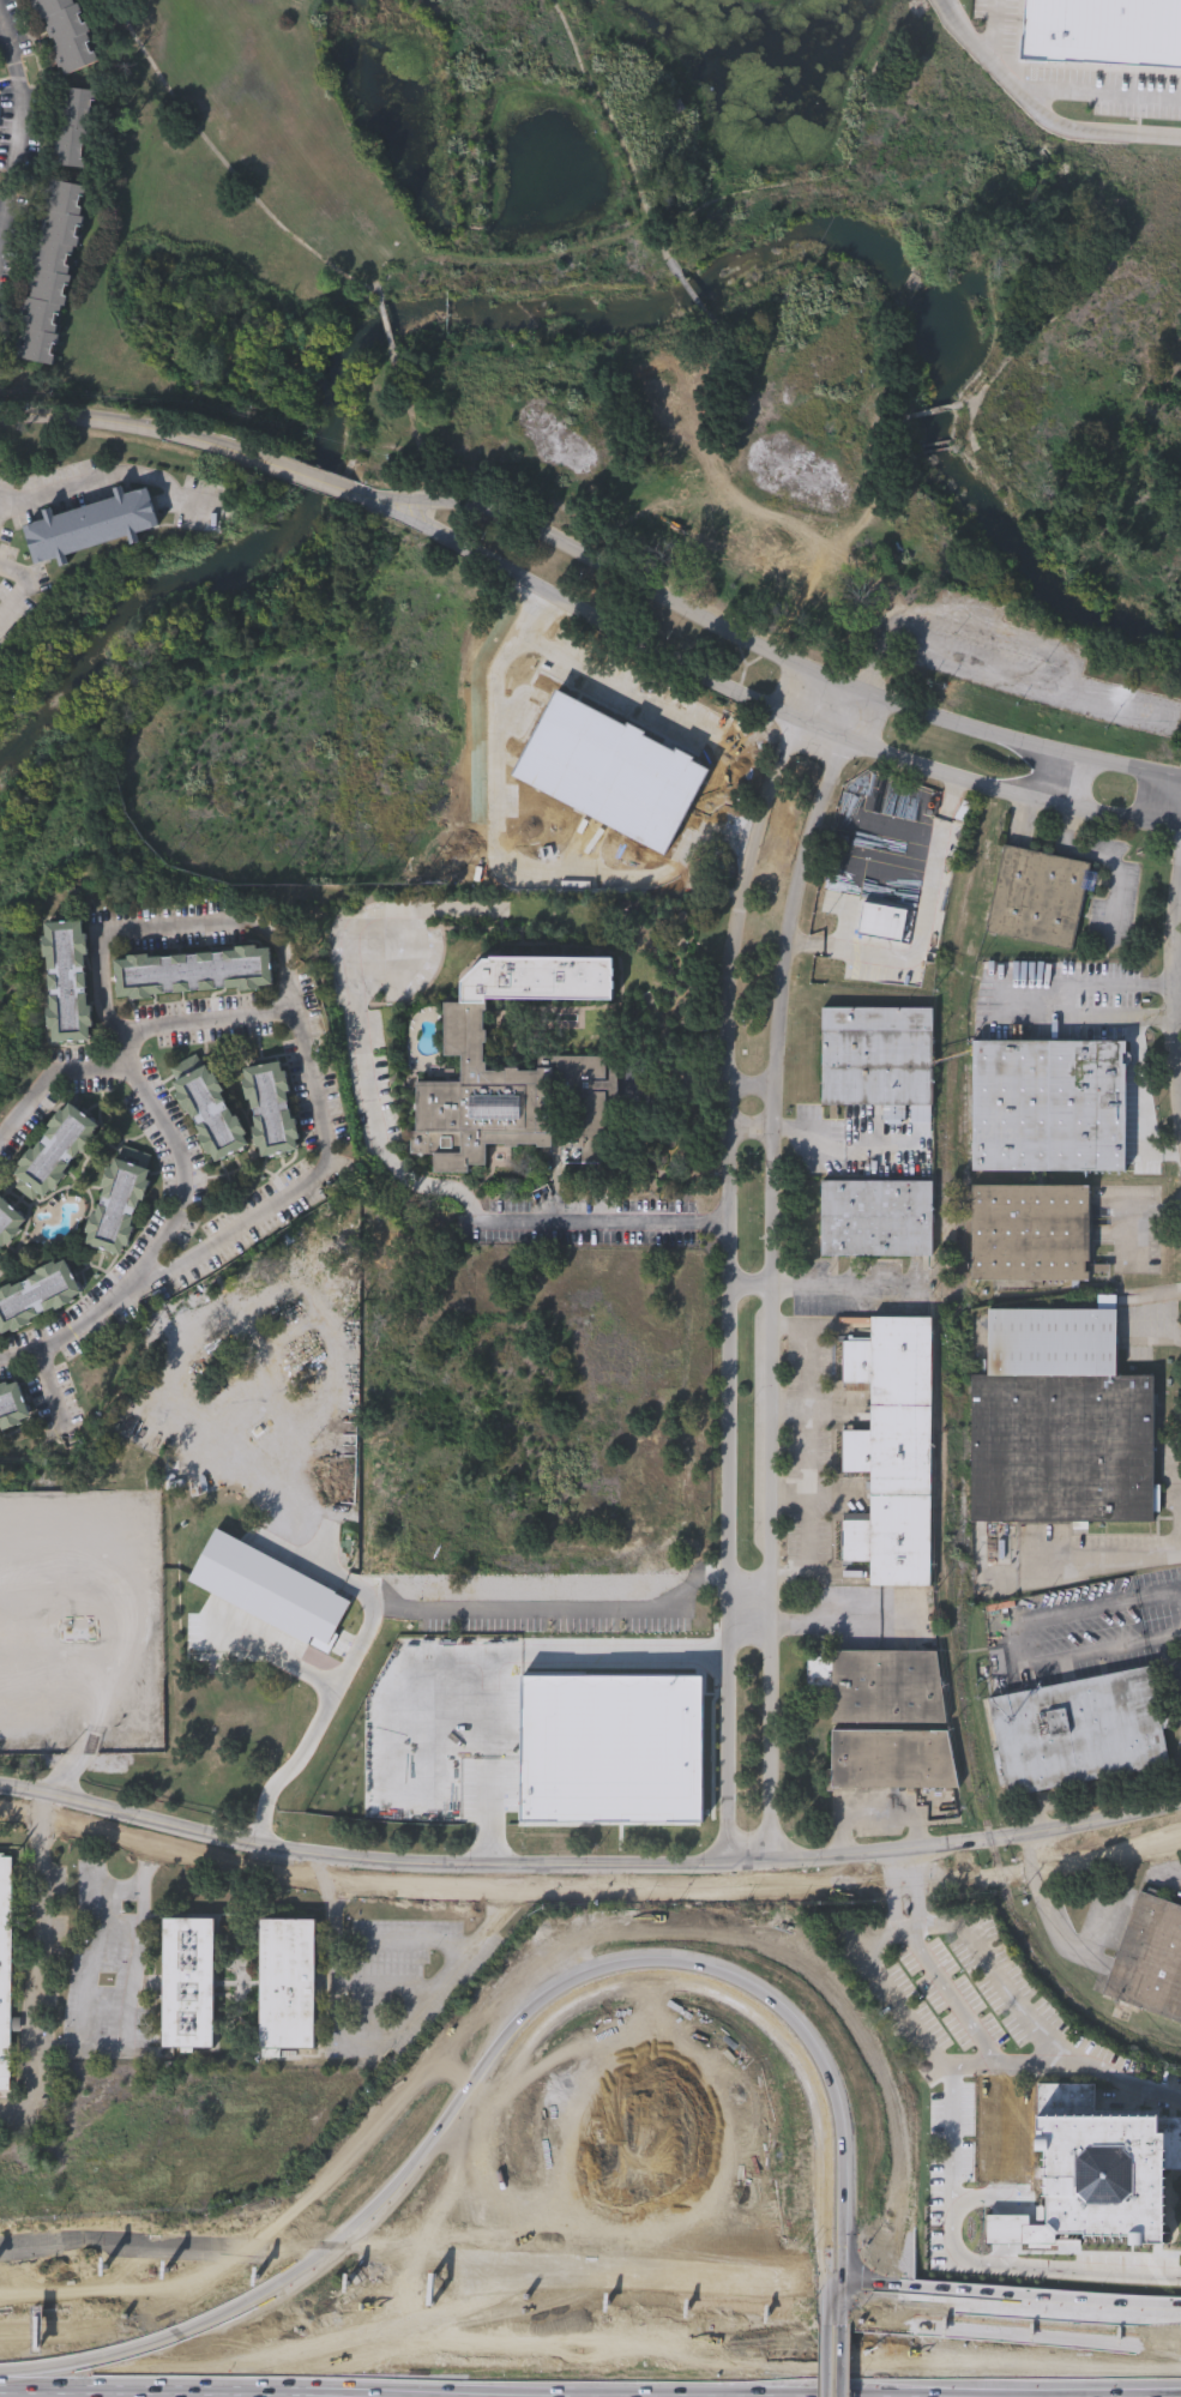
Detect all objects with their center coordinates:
road: (957, 8)
building: (67, 32)
building: (1104, 35)
road: (1102, 94)
road: (1038, 109)
road: (22, 125)
building: (73, 125)
building: (50, 270)
road: (134, 427)
road: (308, 477)
road: (106, 480)
road: (367, 498)
road: (4, 504)
building: (640, 519)
building: (89, 522)
building: (742, 553)
road: (25, 589)
road: (870, 652)
road: (775, 654)
road: (1077, 657)
road: (633, 694)
road: (520, 698)
road: (1117, 704)
road: (765, 709)
road: (1023, 819)
road: (579, 850)
road: (1080, 854)
road: (505, 869)
building: (1038, 896)
road: (741, 920)
building: (882, 921)
road: (169, 925)
road: (921, 931)
road: (789, 932)
building: (191, 970)
building: (67, 980)
road: (1161, 984)
road: (1008, 1001)
road: (1161, 1016)
building: (876, 1055)
road: (749, 1085)
building: (502, 1103)
road: (317, 1106)
building: (1047, 1106)
building: (206, 1107)
building: (272, 1108)
road: (803, 1142)
building: (54, 1150)
railway: (939, 1166)
road: (183, 1175)
road: (435, 1185)
building: (118, 1205)
building: (876, 1217)
building: (10, 1221)
road: (1145, 1221)
building: (1030, 1235)
road: (825, 1288)
building: (36, 1291)
railway: (964, 1332)
road: (49, 1386)
road: (789, 1408)
building: (12, 1411)
building: (1059, 1422)
building: (891, 1453)
road: (812, 1462)
road: (1179, 1493)
road: (788, 1496)
road: (724, 1535)
road: (764, 1535)
road: (1083, 1570)
road: (335, 1574)
road: (447, 1616)
road: (844, 1625)
road: (1011, 1642)
road: (278, 1658)
road: (513, 1662)
building: (881, 1685)
railway: (964, 1711)
building: (1079, 1731)
building: (893, 1759)
road: (74, 1760)
road: (44, 1801)
road: (1038, 1851)
road: (1169, 1865)
road: (911, 1867)
road: (588, 1868)
road: (337, 1874)
road: (588, 1892)
road: (894, 1904)
road: (923, 1908)
road: (113, 1926)
road: (492, 1929)
parking lot: (64, 1940)
road: (460, 1944)
parking lot: (88, 1950)
parking lot: (406, 1950)
road: (1089, 1958)
building: (1150, 1959)
parking lot: (122, 1961)
building: (13, 1965)
building: (210, 1970)
building: (303, 1970)
road: (46, 1982)
road: (411, 1985)
road: (143, 1986)
building: (186, 1987)
parking lot: (384, 1995)
road: (941, 2062)
road: (999, 2070)
parking lot: (49, 2076)
road: (783, 2104)
building: (1104, 2166)
road: (414, 2264)
road: (1005, 2295)
road: (828, 2308)
road: (843, 2308)
road: (843, 2361)
road: (828, 2362)
road: (564, 2390)
road: (1155, 2392)

